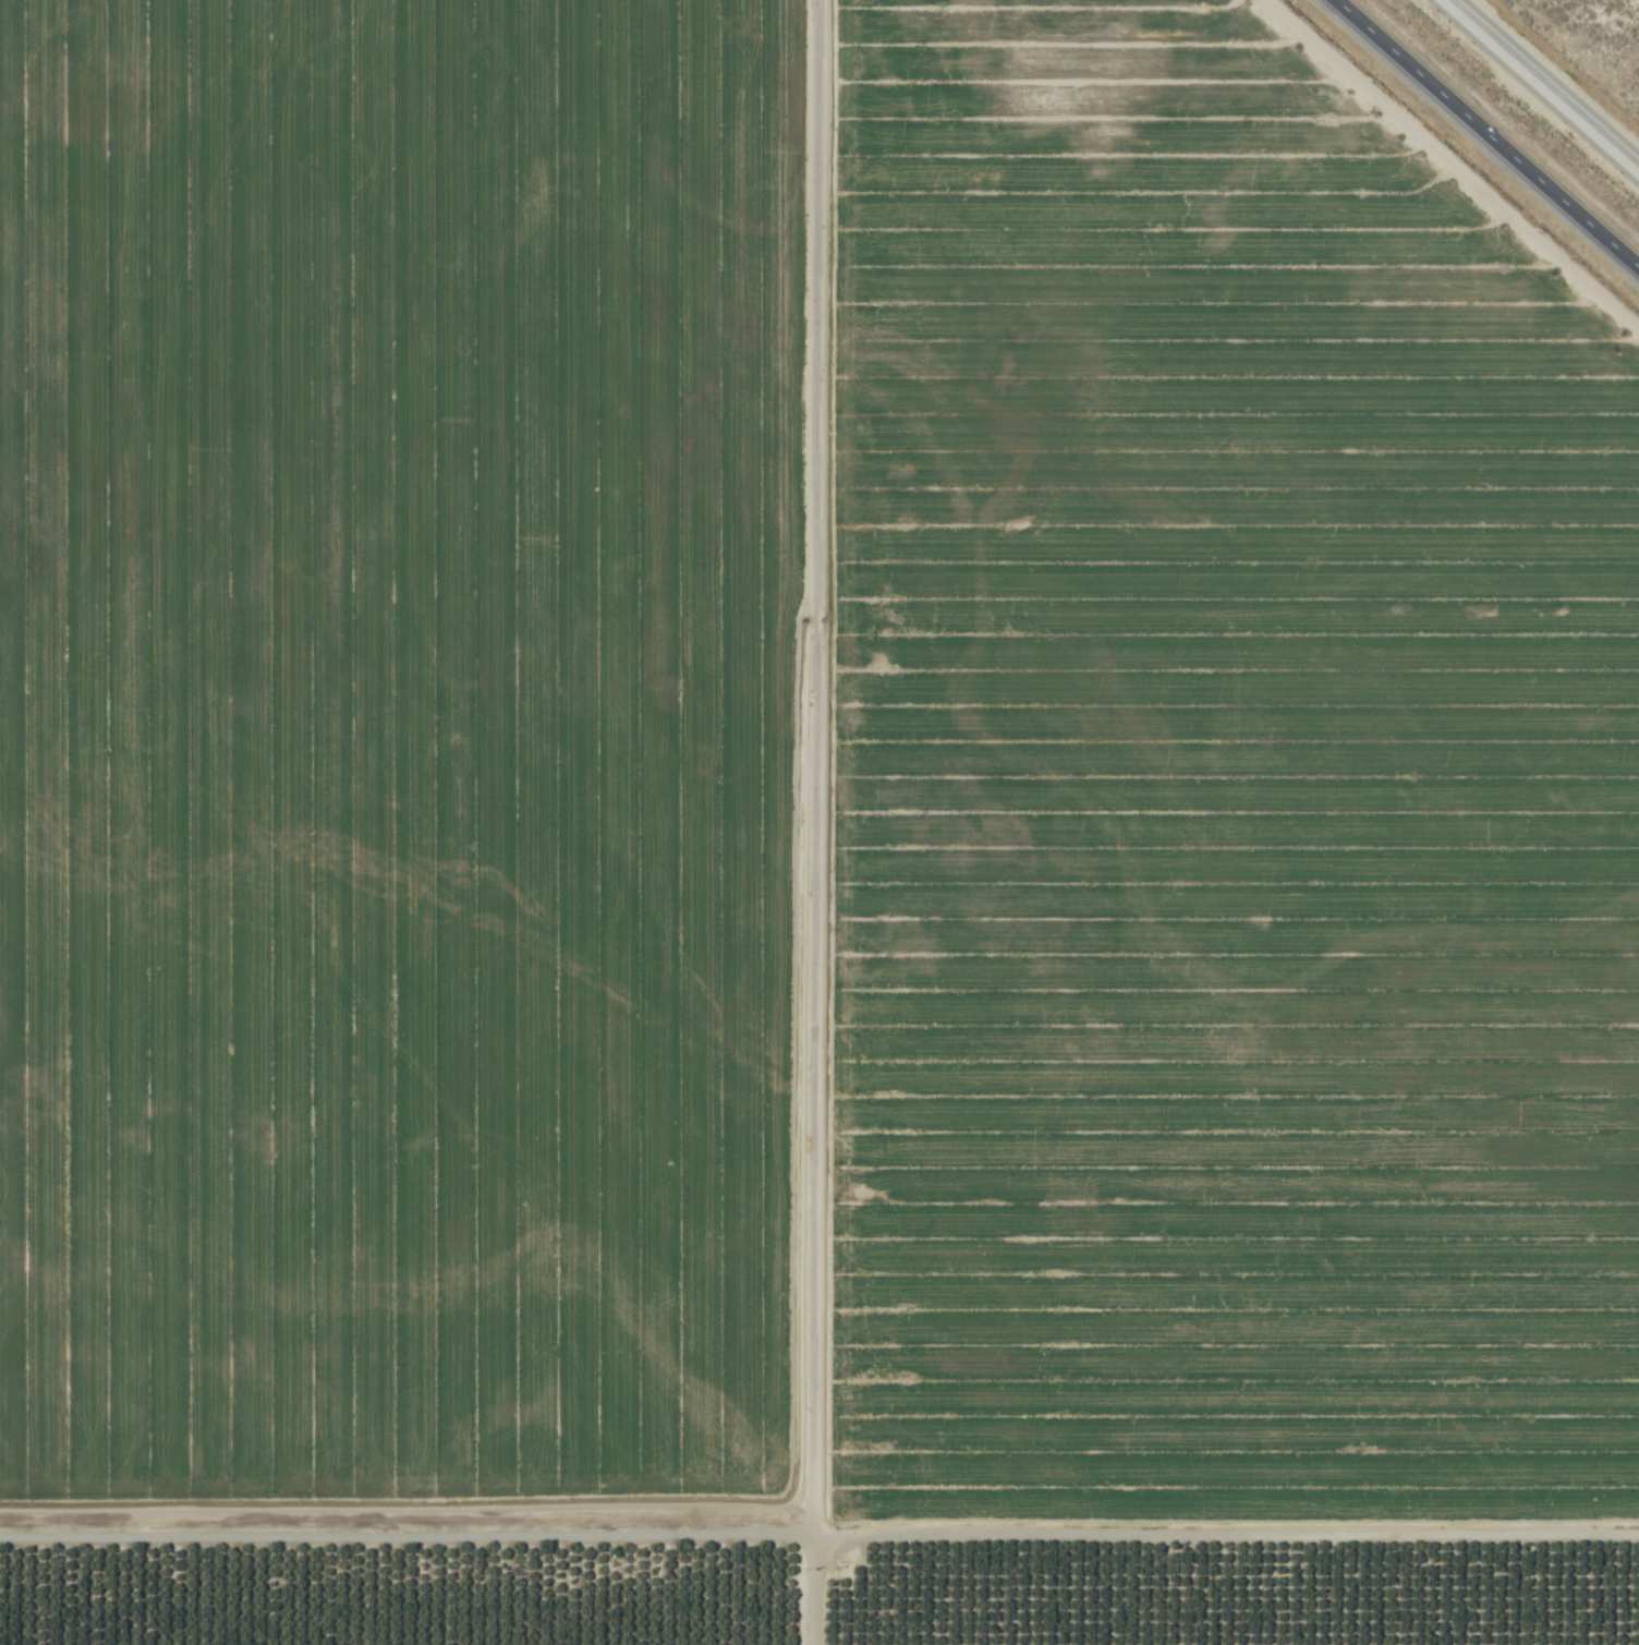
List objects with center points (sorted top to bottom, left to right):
crop: (1581, 50)
road: (1543, 83)
road: (1482, 137)
crop: (800, 842)

